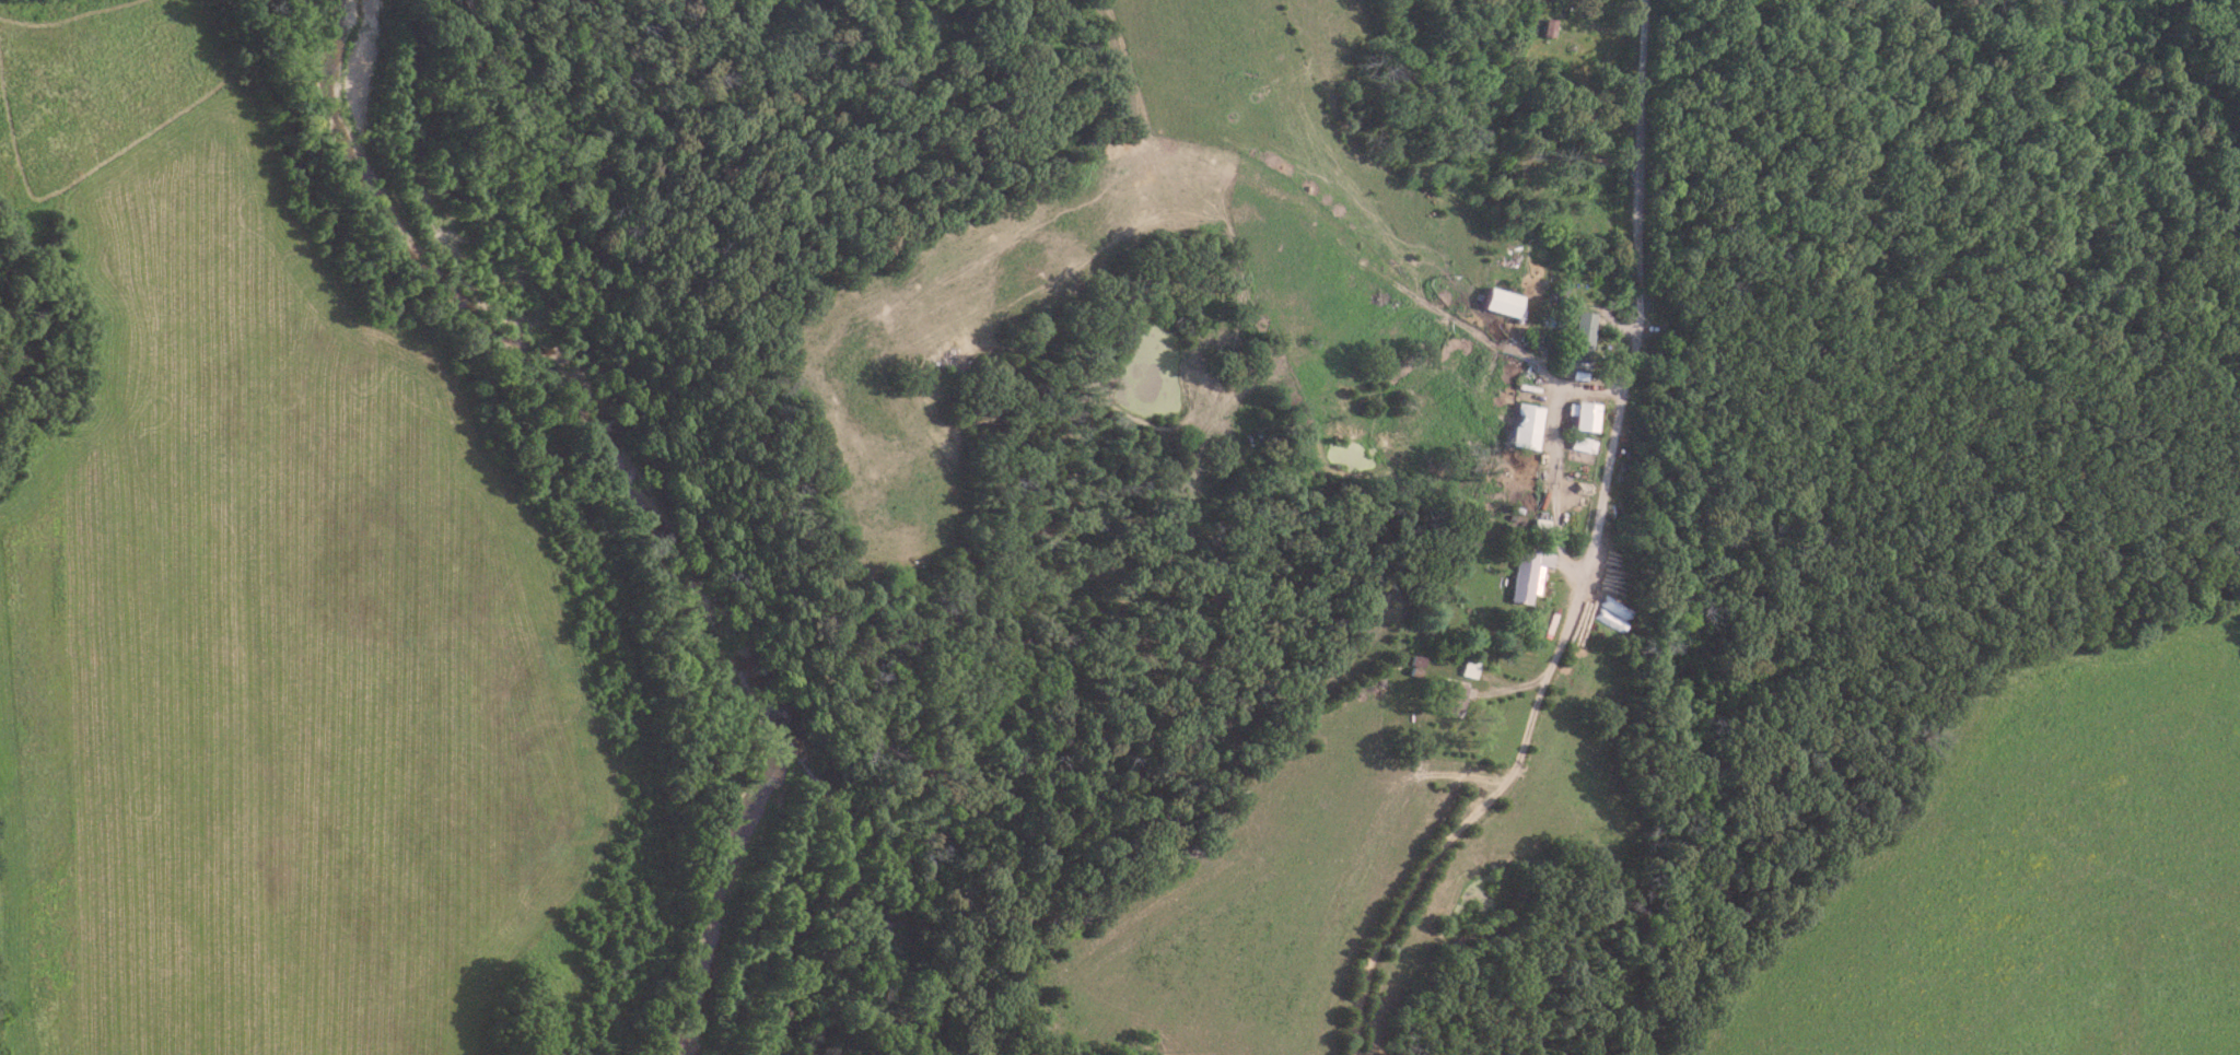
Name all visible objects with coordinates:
building: (1502, 304)
building: (1578, 342)
building: (1525, 429)
building: (1578, 445)
road: (1552, 454)
road: (1587, 556)
building: (1520, 577)
building: (1447, 699)

